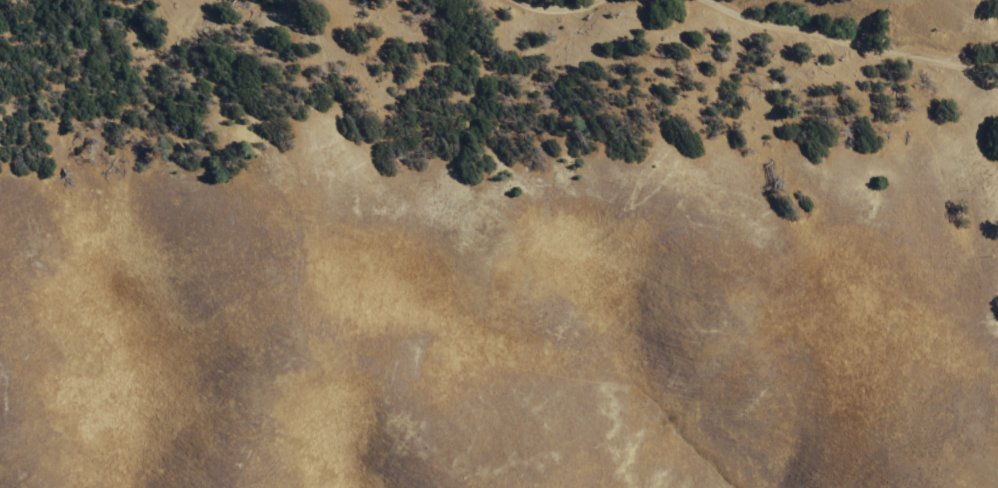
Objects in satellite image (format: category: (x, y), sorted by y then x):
road: (553, 3)
road: (852, 41)

